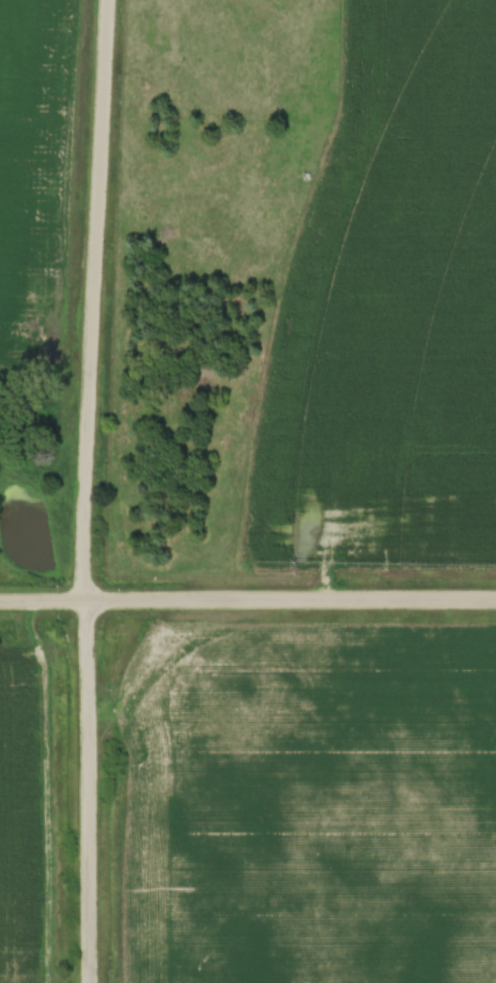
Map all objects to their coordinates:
road: (84, 491)
road: (247, 599)

